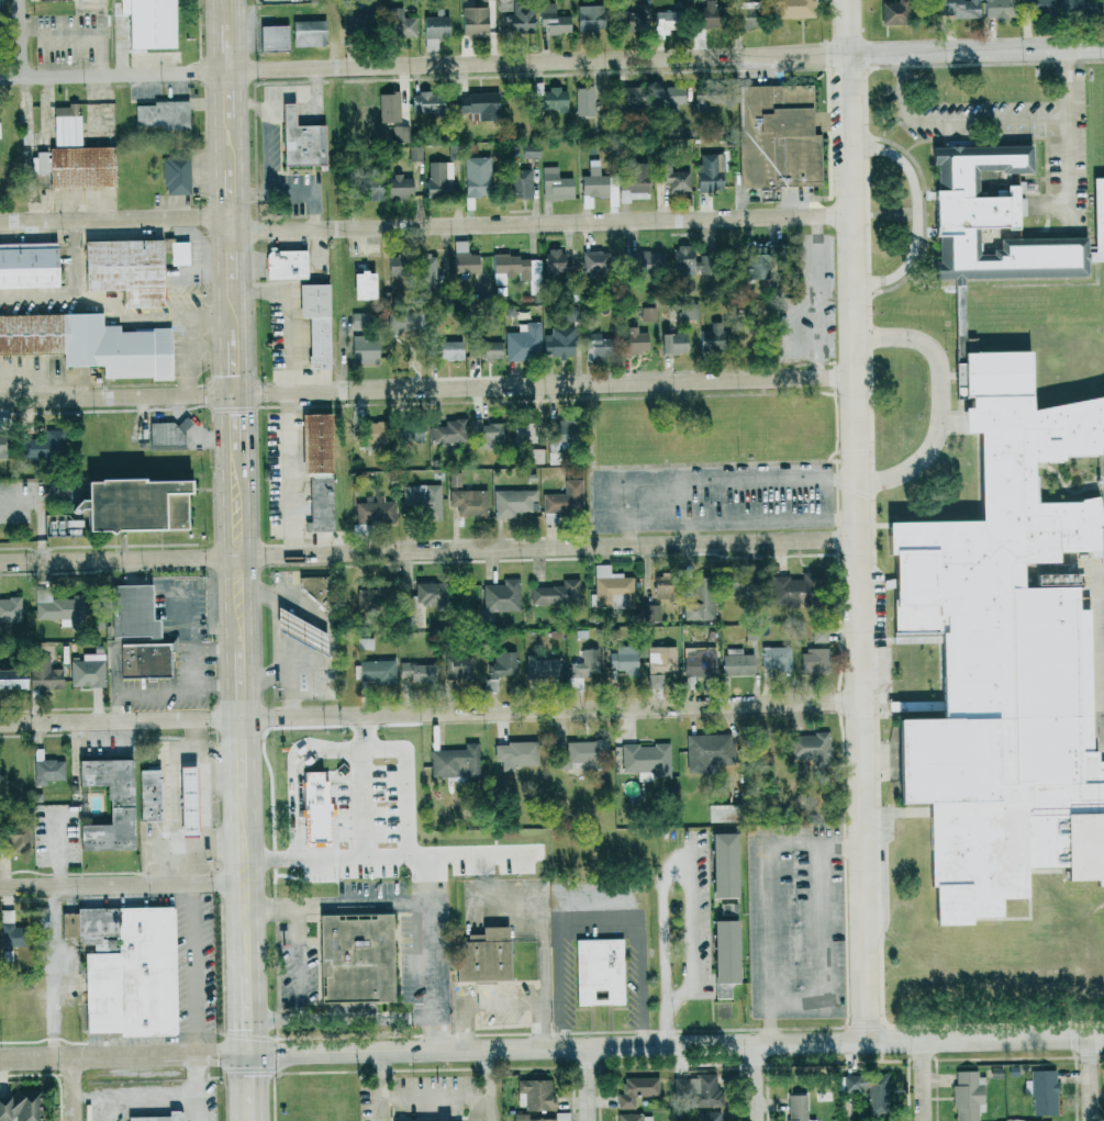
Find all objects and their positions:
building: (1042, 4)
building: (1078, 7)
building: (959, 8)
building: (792, 9)
building: (996, 9)
road: (212, 10)
building: (1103, 11)
building: (894, 12)
building: (706, 13)
building: (746, 14)
building: (520, 18)
building: (553, 19)
building: (588, 19)
building: (473, 20)
building: (633, 20)
building: (400, 23)
building: (663, 23)
building: (435, 26)
building: (308, 33)
road: (241, 35)
road: (19, 36)
building: (272, 37)
building: (431, 44)
road: (214, 46)
road: (659, 58)
road: (107, 72)
road: (243, 94)
road: (317, 96)
building: (626, 96)
building: (669, 97)
building: (550, 99)
building: (583, 100)
building: (423, 101)
building: (478, 104)
building: (388, 107)
road: (291, 112)
building: (161, 113)
road: (276, 114)
road: (216, 120)
road: (954, 121)
building: (65, 125)
road: (1069, 131)
building: (400, 133)
building: (779, 137)
road: (268, 139)
building: (303, 139)
building: (531, 150)
building: (415, 153)
building: (37, 162)
building: (79, 167)
road: (243, 167)
building: (707, 172)
building: (175, 176)
building: (477, 176)
building: (438, 178)
building: (673, 178)
building: (521, 183)
building: (555, 184)
building: (599, 184)
building: (633, 186)
building: (399, 187)
road: (219, 191)
building: (372, 192)
road: (293, 194)
road: (110, 214)
road: (918, 214)
building: (1000, 222)
road: (535, 225)
road: (244, 248)
building: (178, 253)
building: (464, 259)
building: (592, 261)
building: (644, 261)
building: (756, 261)
building: (553, 262)
building: (685, 262)
building: (285, 264)
building: (27, 265)
building: (509, 268)
building: (125, 269)
building: (426, 271)
building: (534, 273)
road: (221, 278)
building: (363, 285)
road: (37, 295)
road: (111, 305)
building: (688, 311)
building: (647, 314)
road: (288, 321)
building: (315, 322)
road: (245, 336)
building: (711, 338)
building: (558, 341)
building: (633, 341)
building: (524, 343)
building: (89, 344)
building: (672, 344)
building: (593, 346)
building: (486, 349)
building: (365, 350)
building: (448, 350)
road: (188, 358)
road: (222, 368)
road: (537, 384)
road: (111, 399)
road: (940, 400)
road: (248, 426)
building: (524, 430)
building: (372, 431)
building: (409, 431)
building: (447, 431)
building: (565, 431)
building: (487, 434)
building: (167, 435)
building: (43, 444)
building: (535, 456)
building: (316, 469)
road: (291, 472)
building: (454, 479)
building: (424, 498)
building: (565, 498)
building: (136, 502)
building: (469, 502)
building: (512, 502)
road: (595, 503)
building: (375, 511)
road: (857, 520)
road: (223, 525)
road: (688, 533)
road: (629, 534)
road: (539, 546)
road: (112, 557)
road: (252, 587)
building: (317, 587)
building: (612, 587)
building: (661, 588)
building: (788, 591)
building: (556, 594)
building: (370, 596)
building: (501, 596)
building: (425, 597)
building: (699, 602)
building: (58, 608)
building: (10, 609)
building: (134, 609)
building: (651, 614)
building: (303, 629)
building: (815, 652)
building: (1003, 655)
building: (147, 659)
building: (776, 659)
building: (623, 660)
building: (700, 661)
building: (660, 663)
building: (737, 663)
building: (458, 668)
building: (583, 668)
building: (540, 669)
building: (87, 671)
building: (416, 671)
building: (373, 672)
building: (501, 672)
building: (44, 674)
building: (12, 679)
road: (228, 687)
road: (544, 708)
road: (114, 721)
road: (255, 744)
building: (809, 748)
road: (200, 750)
building: (707, 752)
building: (582, 753)
building: (389, 754)
building: (515, 754)
building: (647, 759)
building: (455, 762)
building: (47, 769)
building: (394, 774)
building: (147, 795)
building: (185, 801)
building: (108, 805)
road: (179, 811)
building: (722, 814)
building: (16, 838)
road: (207, 847)
road: (234, 849)
road: (435, 864)
building: (723, 865)
road: (692, 875)
road: (130, 882)
road: (769, 897)
road: (347, 906)
road: (602, 909)
road: (259, 911)
building: (9, 929)
building: (482, 955)
building: (354, 957)
building: (724, 957)
road: (545, 963)
building: (126, 968)
road: (196, 968)
road: (52, 972)
building: (599, 972)
road: (483, 1002)
road: (235, 1017)
traffic signals: (236, 1028)
road: (721, 1043)
road: (299, 1052)
traffic signals: (283, 1053)
road: (249, 1054)
traffic signals: (218, 1055)
road: (189, 1056)
road: (70, 1060)
traffic signals: (261, 1075)
road: (1090, 1078)
road: (926, 1080)
road: (758, 1081)
road: (589, 1084)
road: (382, 1086)
road: (261, 1087)
road: (199, 1088)
road: (237, 1088)
building: (699, 1089)
road: (75, 1090)
building: (636, 1090)
building: (868, 1090)
building: (1042, 1091)
building: (535, 1095)
building: (967, 1095)
road: (459, 1096)
building: (822, 1096)
building: (20, 1106)
road: (491, 1108)
building: (796, 1108)
building: (521, 1116)
building: (709, 1116)
building: (163, 1117)
building: (629, 1117)

